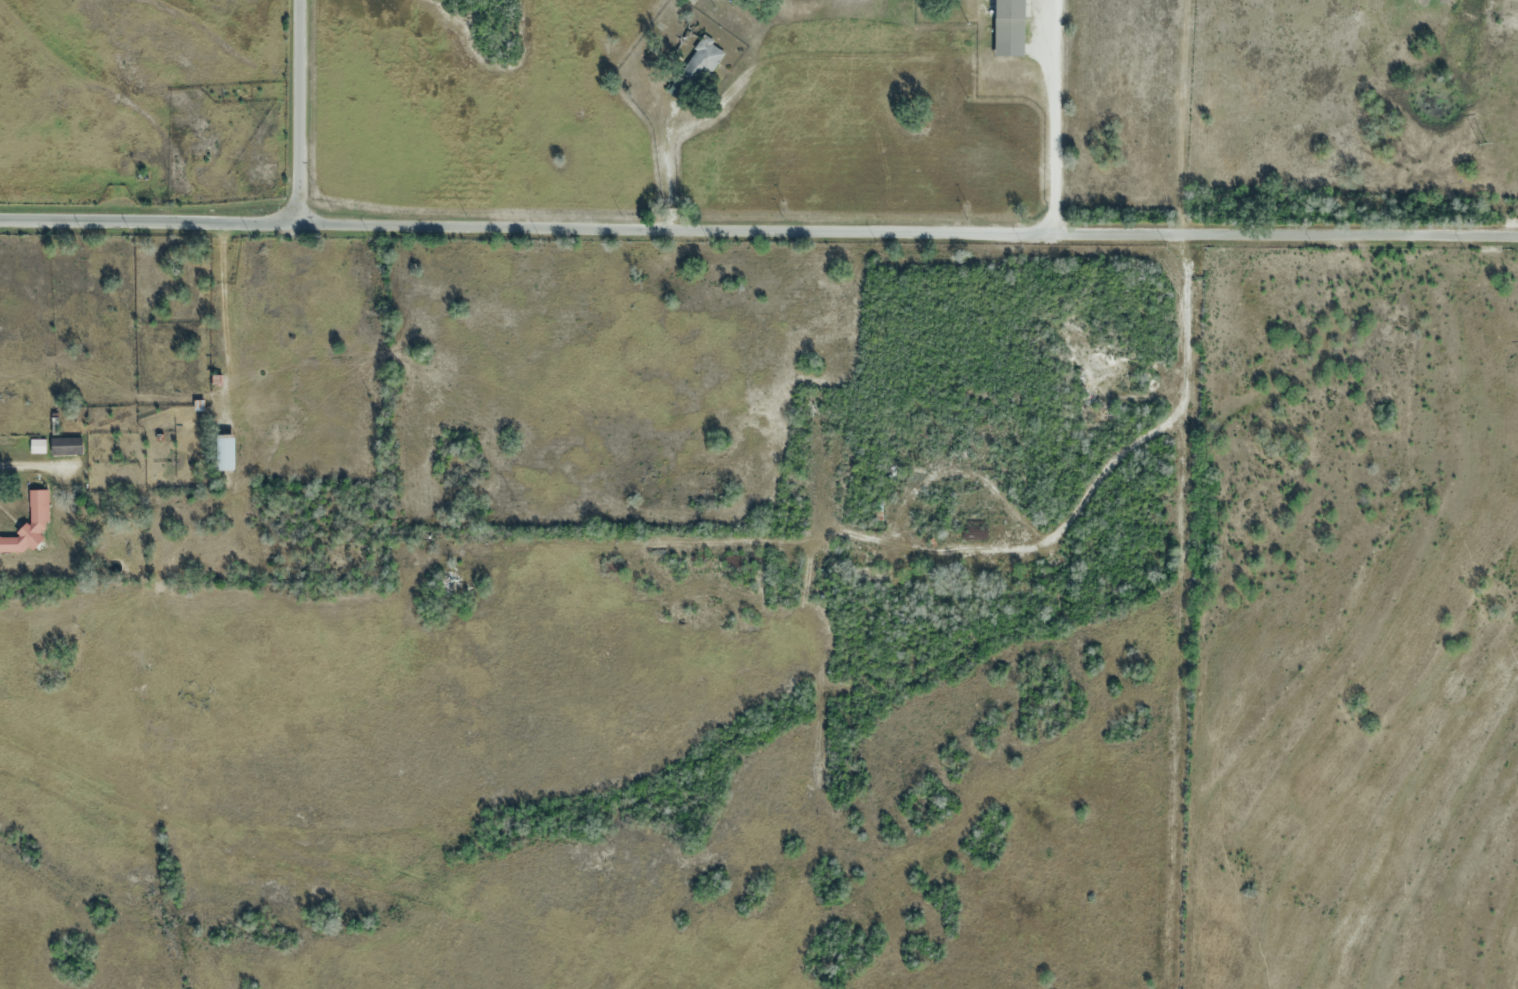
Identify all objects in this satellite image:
building: (693, 70)
road: (310, 109)
road: (1051, 115)
power tower: (1480, 142)
road: (587, 223)
road: (1346, 233)
building: (36, 445)
building: (66, 445)
building: (224, 450)
road: (33, 472)
road: (1094, 482)
building: (29, 527)
building: (974, 528)
building: (1056, 560)
building: (733, 561)
building: (614, 567)
building: (450, 577)

